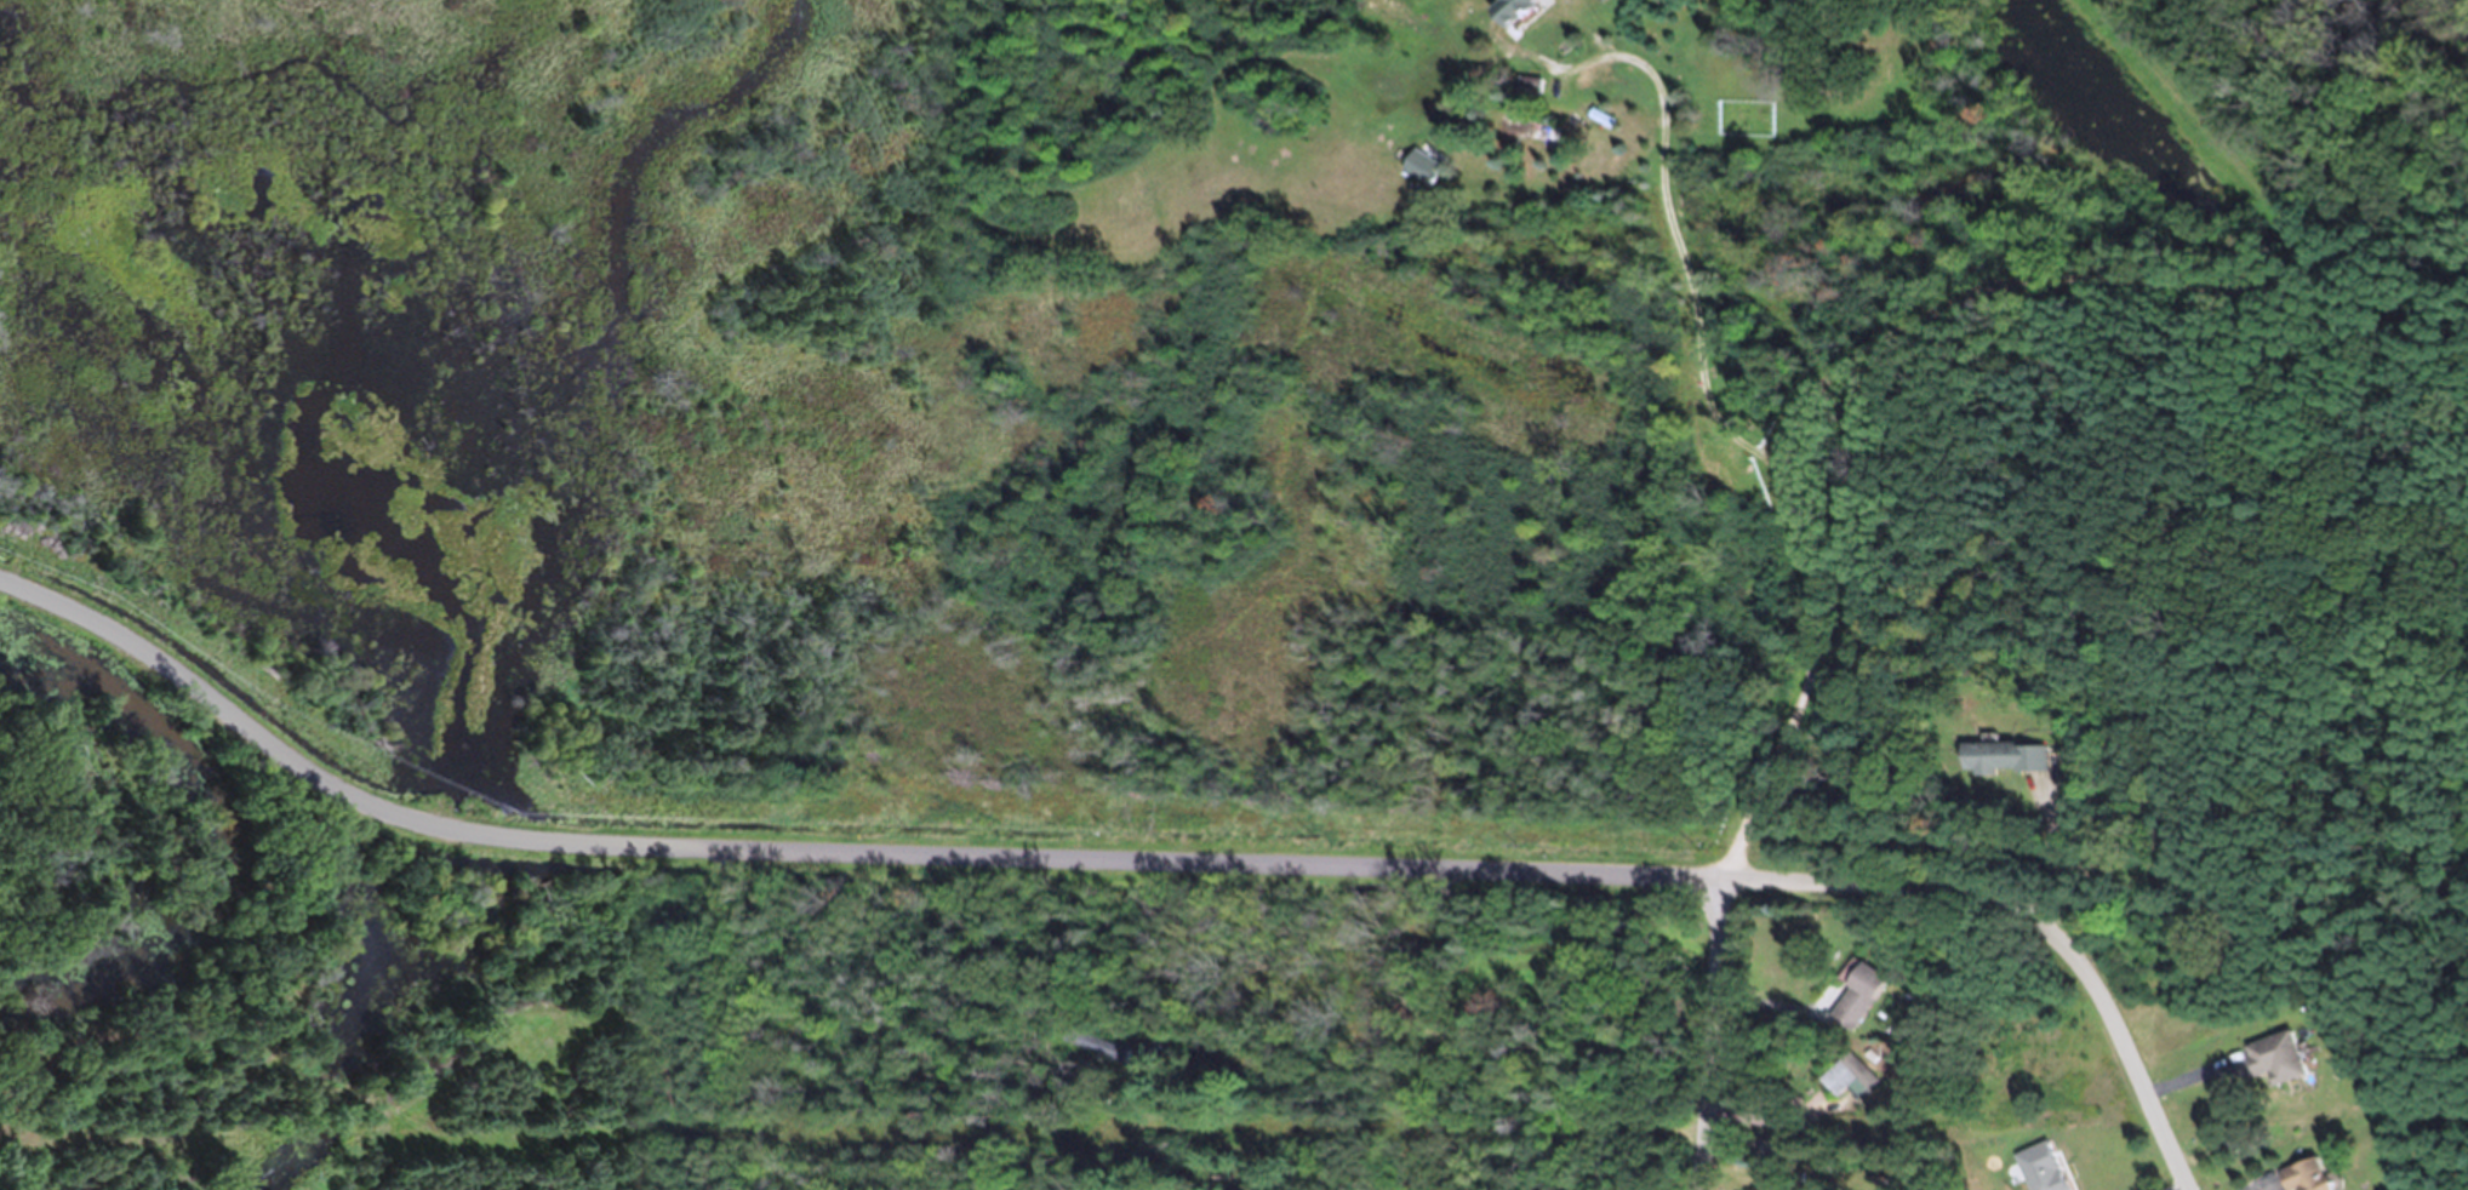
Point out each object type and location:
road: (2212, 138)
road: (2400, 244)
road: (1681, 247)
road: (1827, 377)
building: (1989, 766)
road: (822, 853)
road: (2063, 868)
road: (2026, 920)
building: (1857, 1006)
road: (742, 1019)
road: (1712, 1035)
building: (2272, 1066)
building: (1847, 1087)
building: (2300, 1180)

